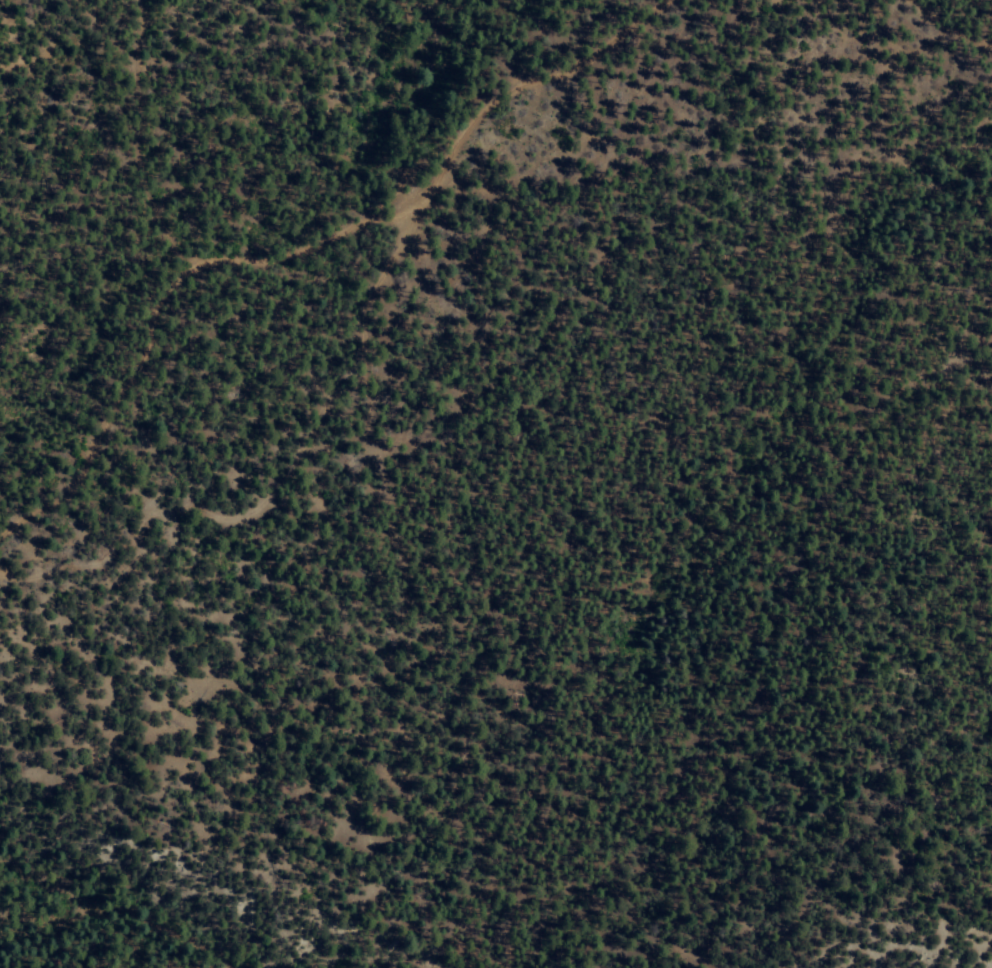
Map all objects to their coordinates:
road: (937, 37)
road: (336, 198)
road: (339, 966)

